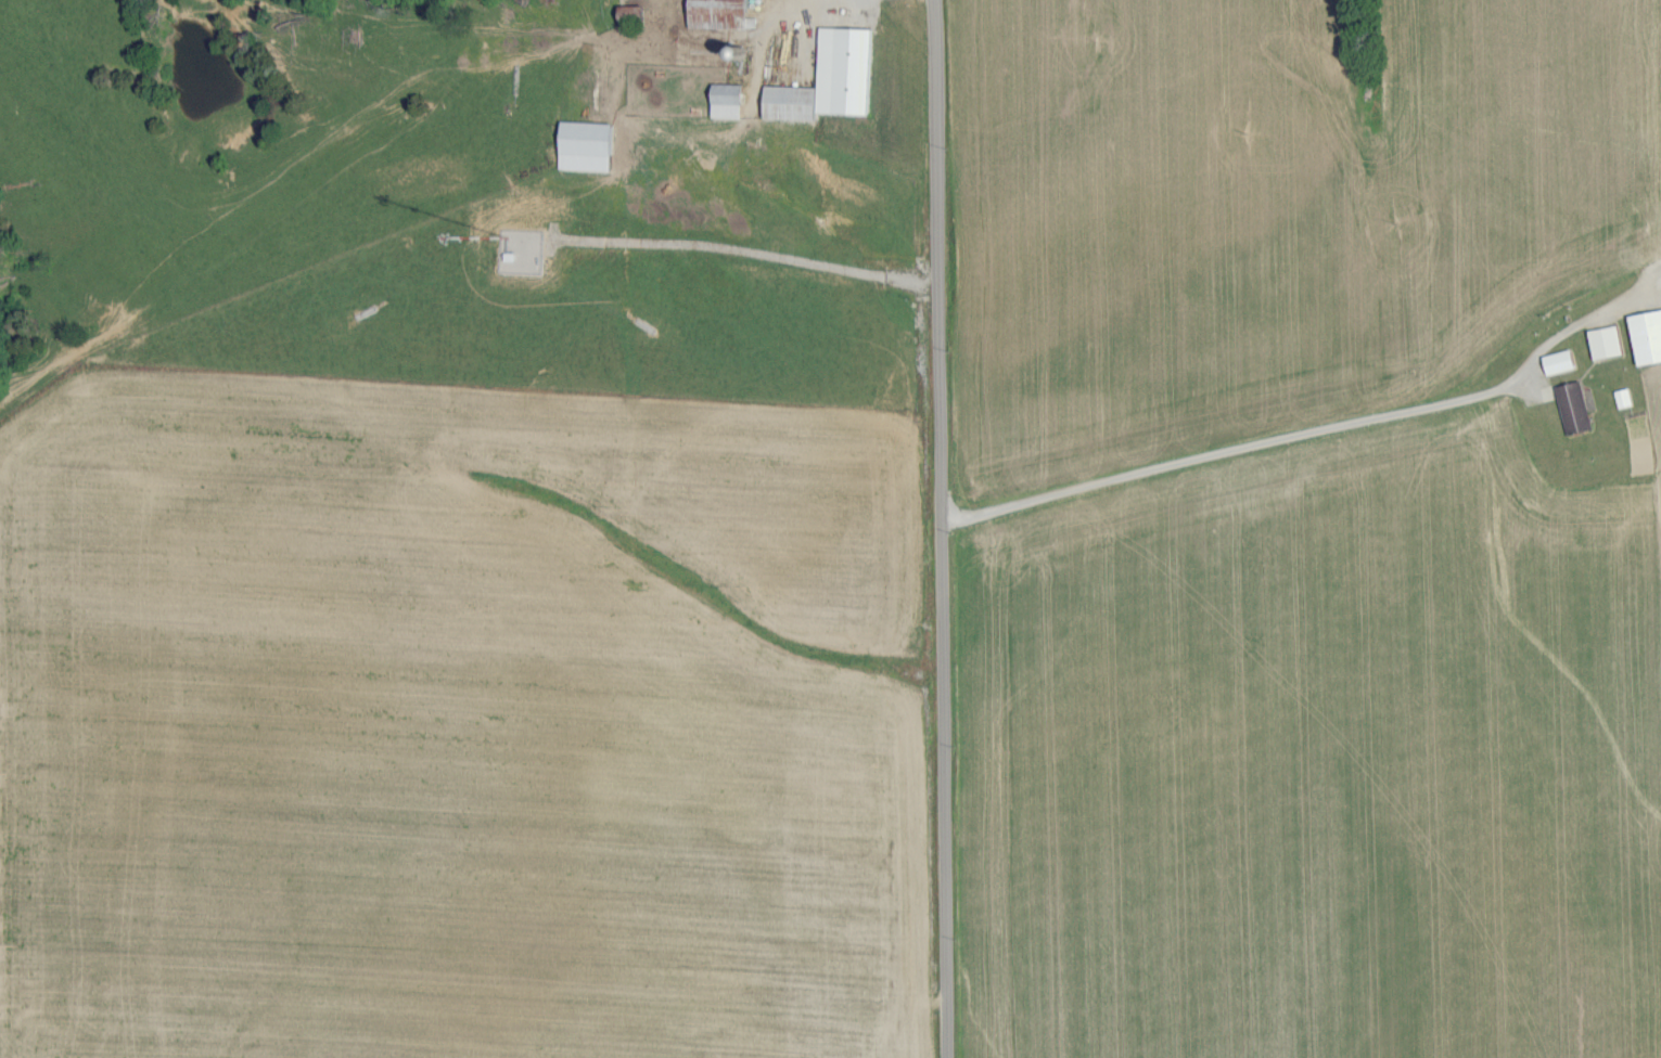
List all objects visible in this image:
building: (725, 13)
building: (834, 78)
building: (732, 99)
building: (591, 144)
building: (1611, 340)
building: (1563, 360)
building: (1627, 396)
building: (1577, 407)
road: (1277, 453)
road: (937, 528)

